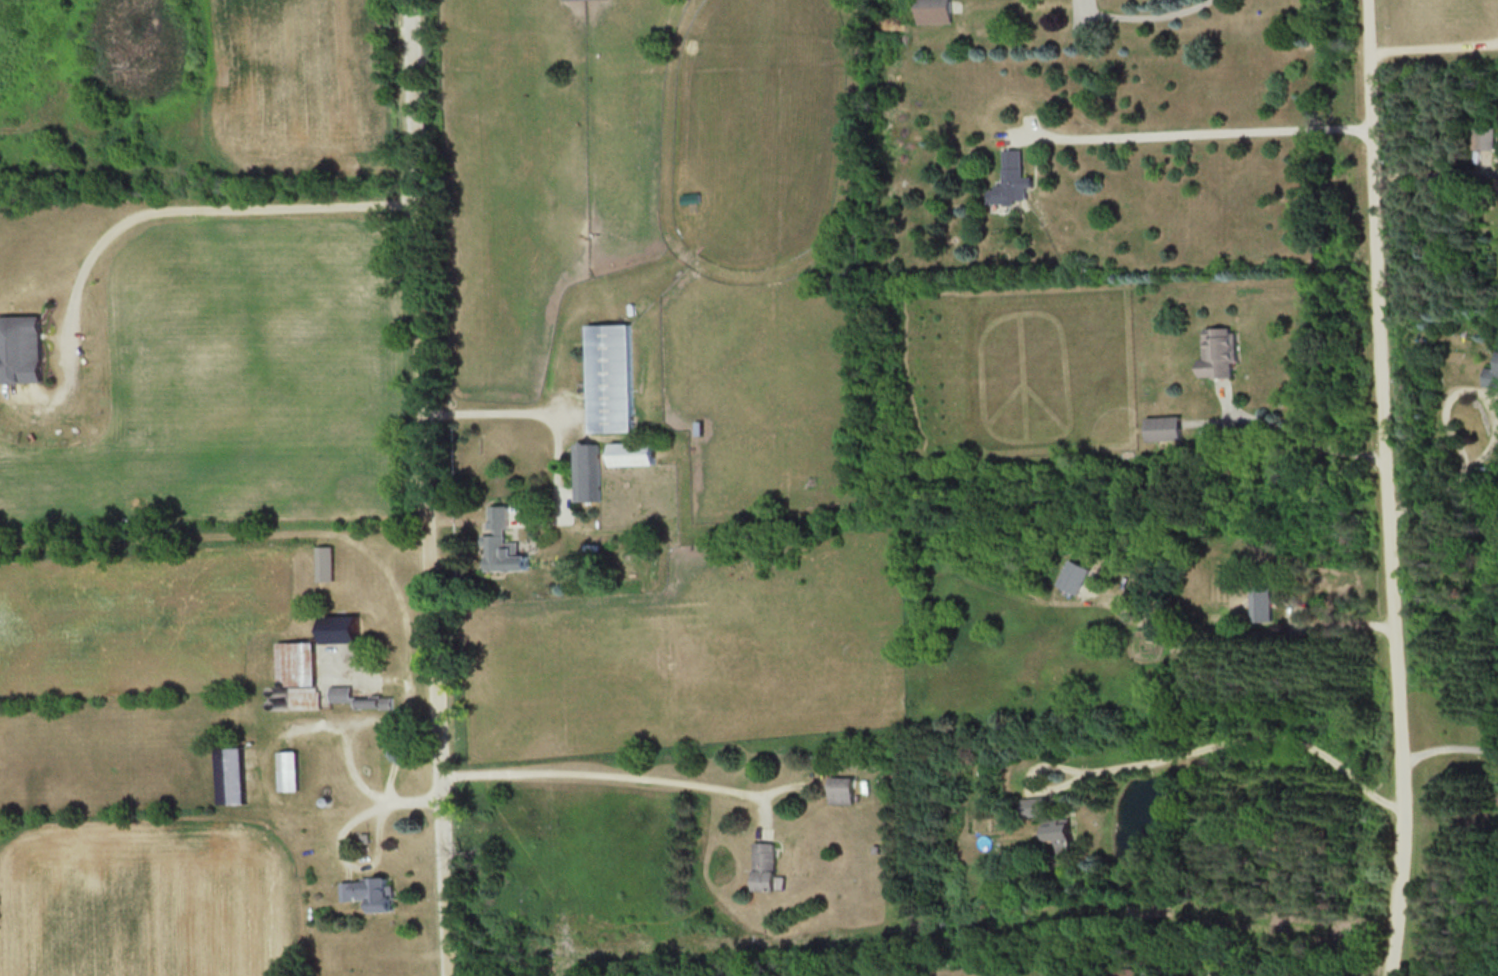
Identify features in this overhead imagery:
building: (937, 10)
road: (1141, 10)
road: (1436, 40)
road: (1198, 136)
building: (1489, 137)
building: (1017, 179)
road: (205, 207)
building: (26, 348)
building: (1224, 352)
building: (1492, 375)
building: (617, 377)
road: (534, 409)
building: (1165, 426)
road: (1307, 435)
building: (641, 453)
building: (590, 471)
road: (1457, 474)
road: (425, 488)
road: (1394, 488)
building: (503, 543)
building: (327, 561)
building: (1263, 601)
road: (1341, 614)
building: (341, 626)
building: (299, 671)
building: (340, 692)
building: (372, 701)
road: (1234, 737)
road: (1451, 742)
building: (288, 769)
building: (231, 773)
road: (610, 773)
building: (843, 789)
building: (1053, 821)
building: (766, 864)
building: (370, 890)
building: (1123, 971)
road: (1236, 972)

